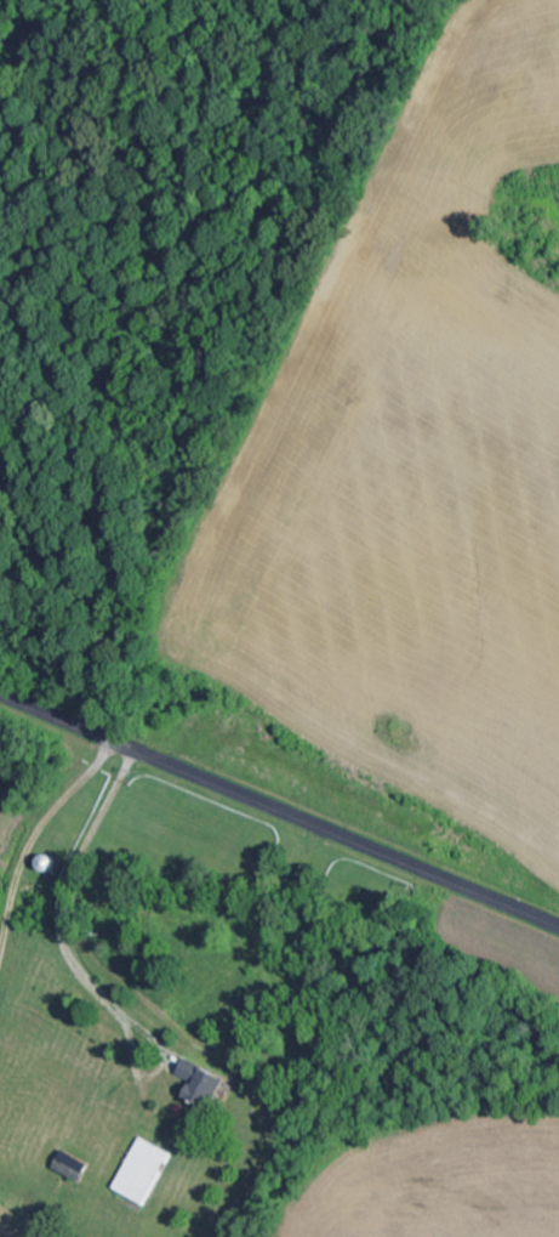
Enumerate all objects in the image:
road: (279, 808)
building: (203, 1083)
building: (146, 1171)

